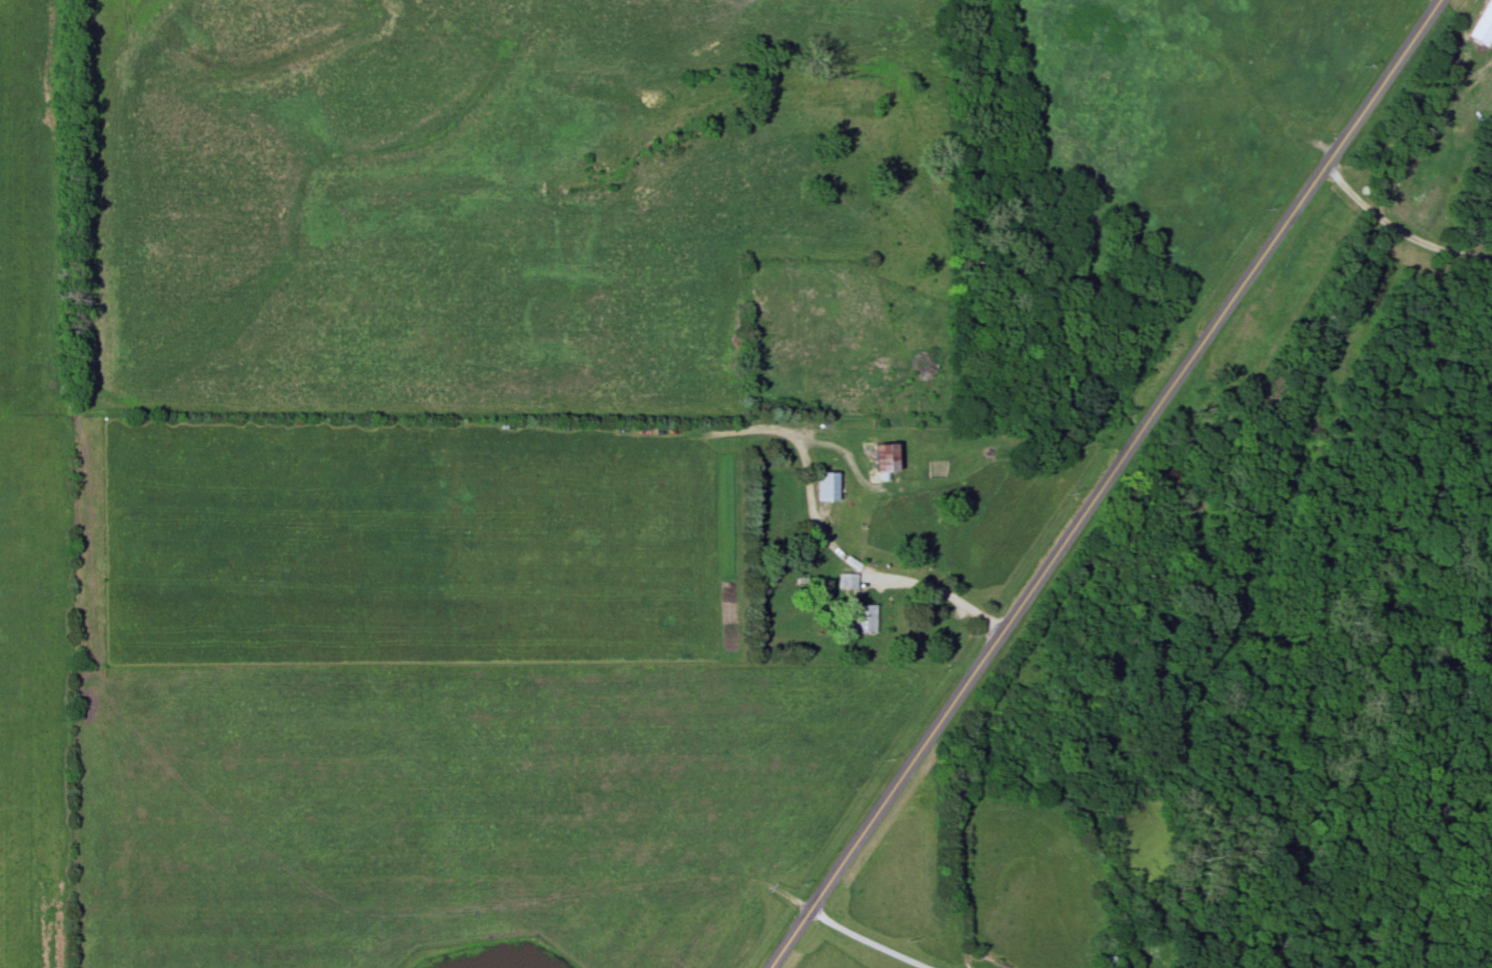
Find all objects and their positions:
building: (1483, 26)
airport: (1121, 180)
crop: (34, 207)
road: (1397, 231)
building: (920, 368)
building: (888, 460)
road: (1102, 483)
building: (828, 488)
road: (881, 578)
building: (847, 582)
building: (865, 619)
road: (864, 940)
building: (1108, 962)

